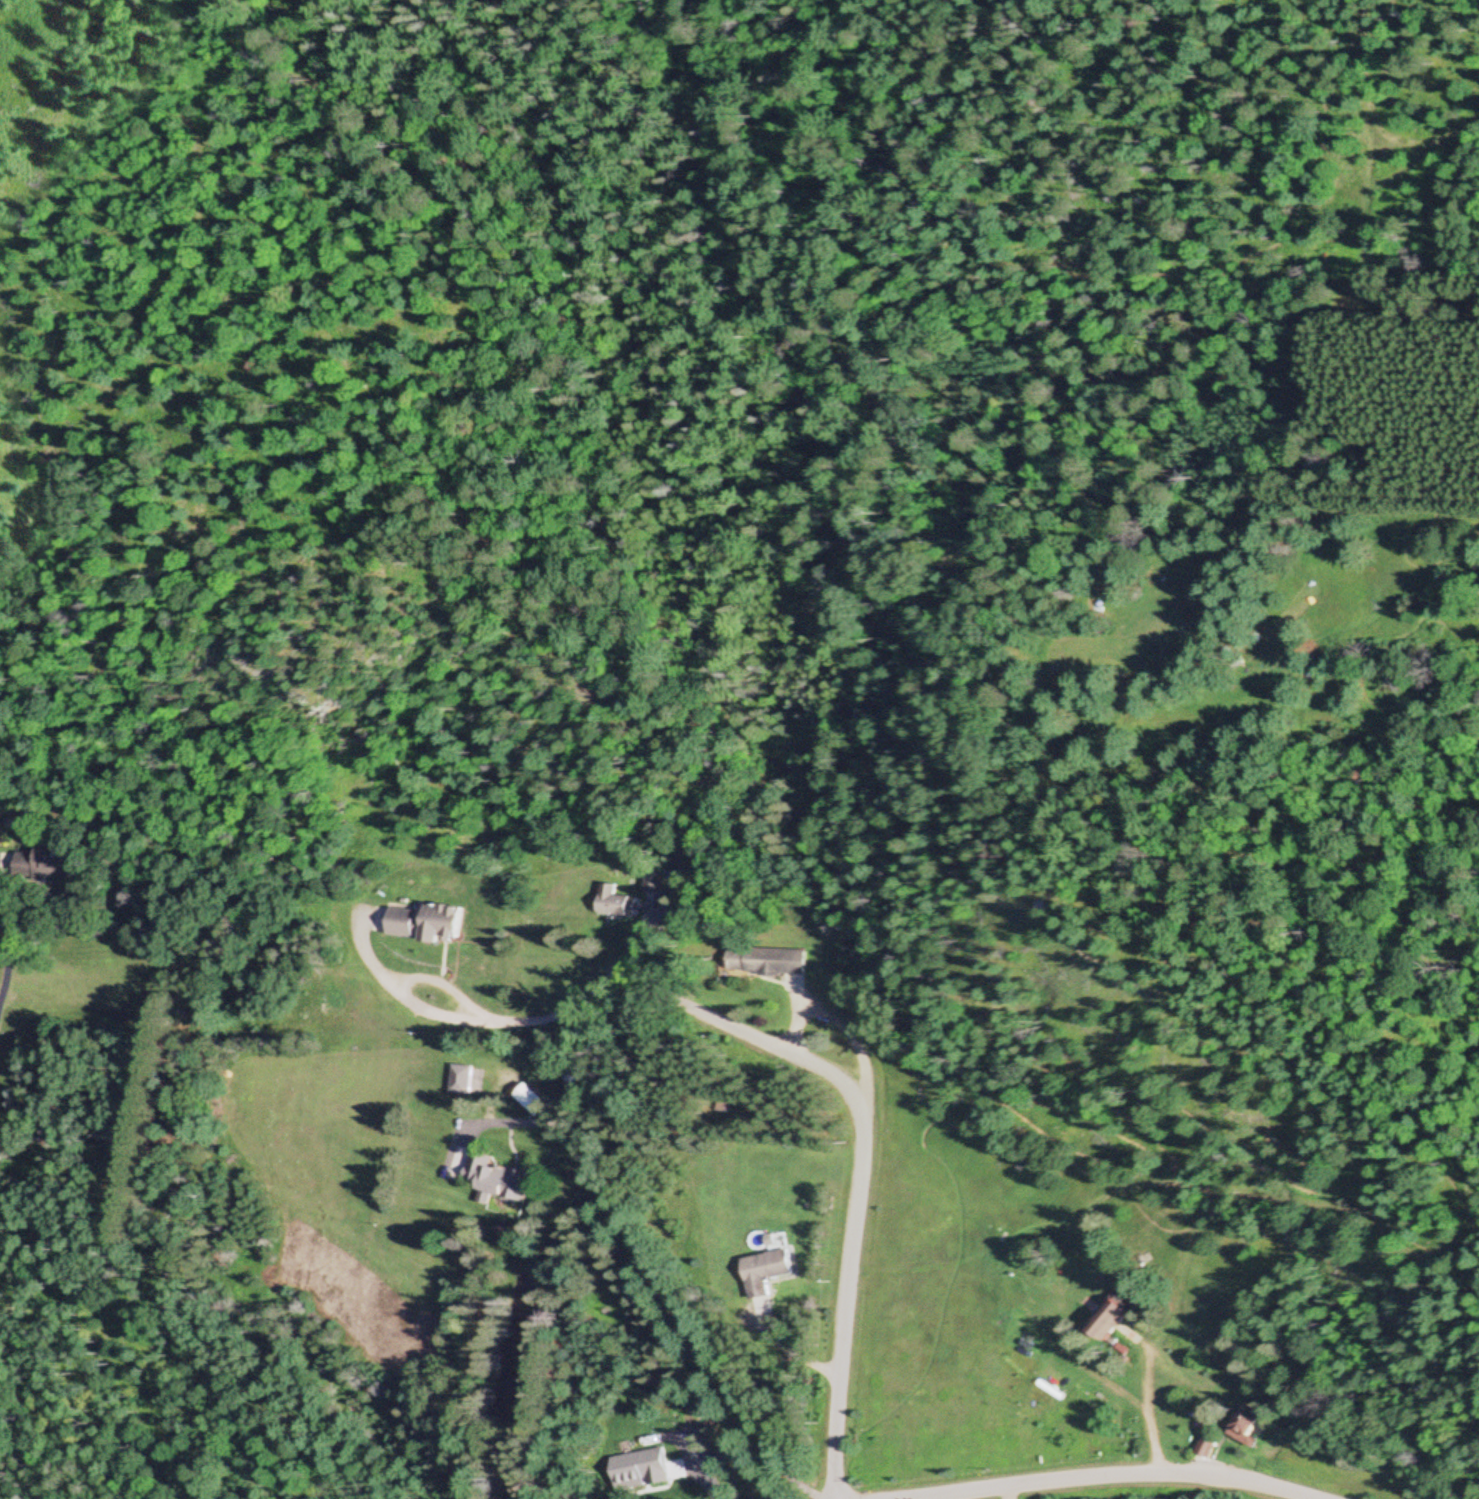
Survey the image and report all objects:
building: (37, 867)
building: (608, 903)
building: (400, 923)
building: (438, 924)
building: (761, 963)
building: (459, 1081)
building: (531, 1101)
road: (856, 1169)
building: (499, 1180)
building: (764, 1273)
building: (1109, 1324)
road: (1143, 1400)
building: (1243, 1426)
building: (1206, 1449)
road: (1108, 1476)

